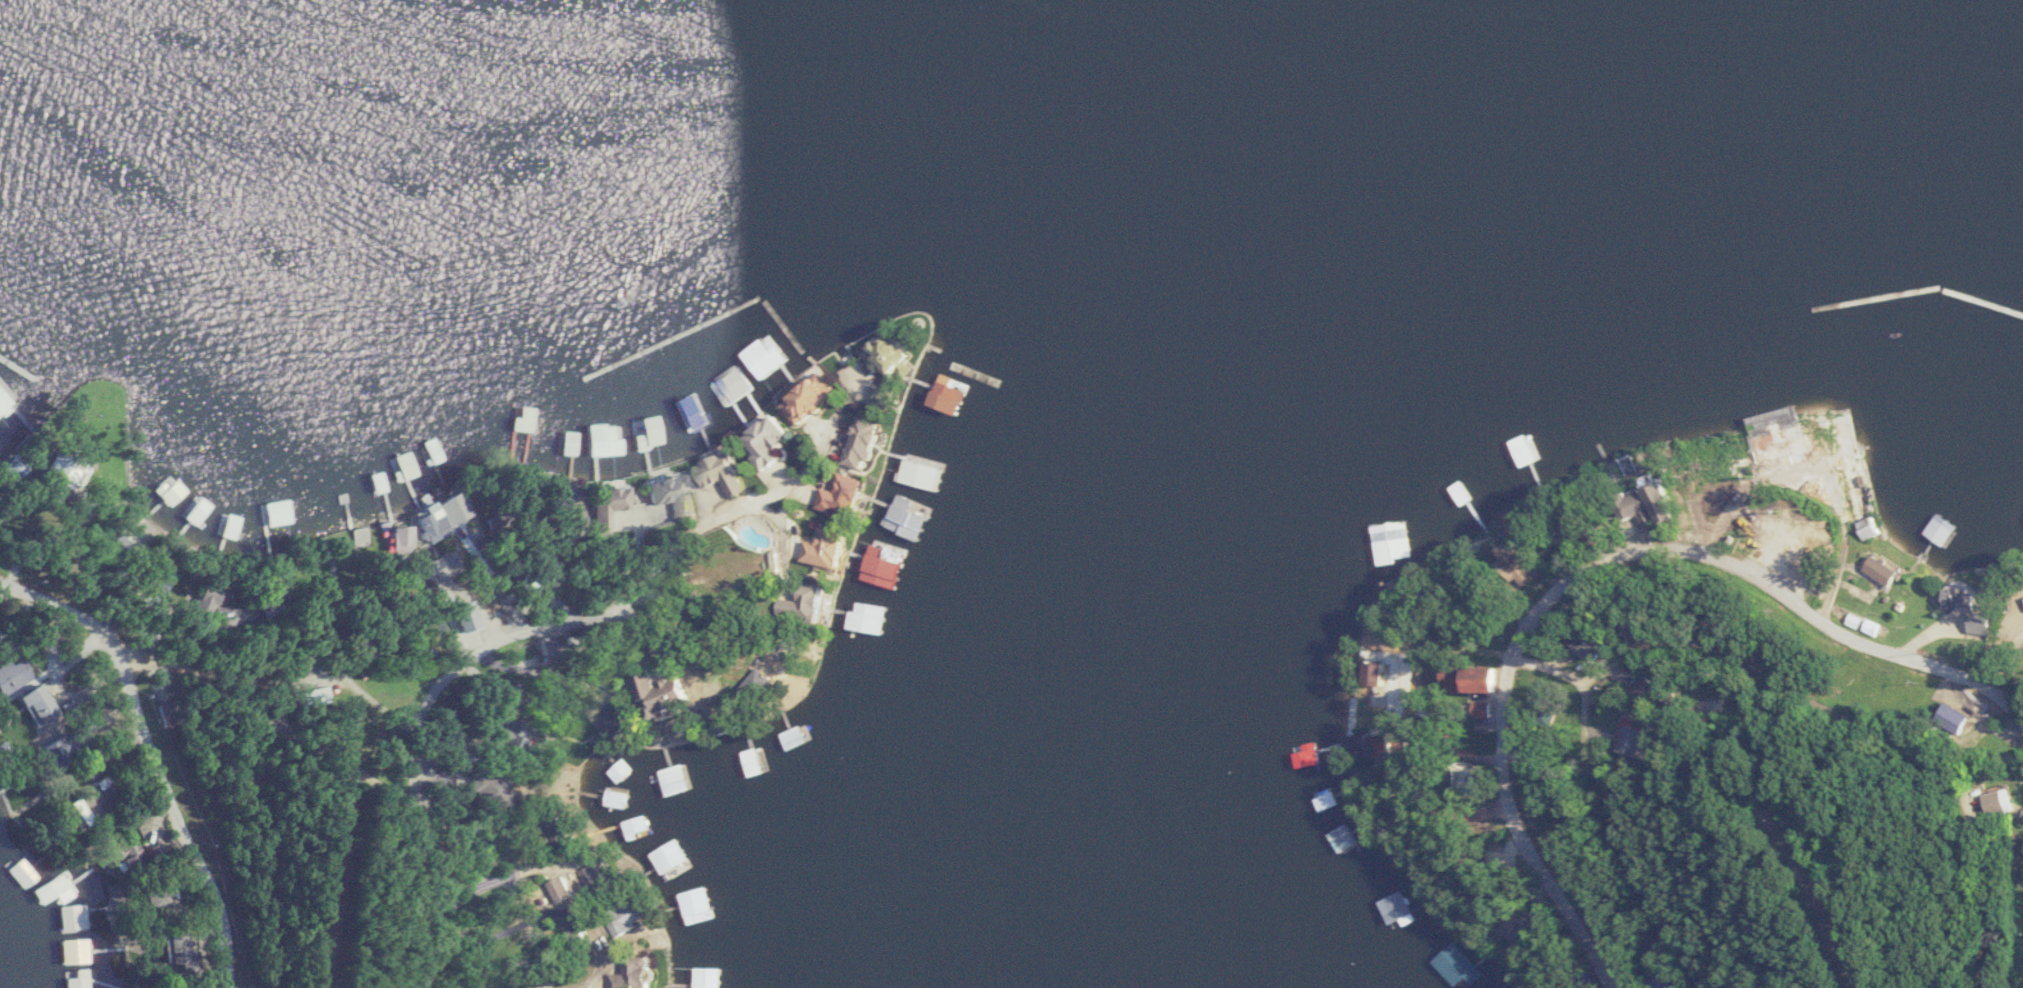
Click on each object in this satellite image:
building: (896, 352)
building: (769, 358)
building: (732, 385)
building: (813, 398)
building: (6, 399)
building: (945, 417)
road: (833, 421)
building: (1587, 424)
building: (606, 439)
building: (572, 443)
building: (867, 443)
building: (1795, 443)
building: (770, 444)
building: (1525, 451)
building: (69, 468)
building: (923, 472)
building: (1730, 472)
building: (726, 473)
road: (1827, 481)
building: (1855, 483)
building: (173, 493)
building: (672, 493)
building: (1459, 493)
building: (847, 497)
building: (1670, 503)
building: (612, 504)
building: (196, 509)
building: (1636, 512)
building: (265, 514)
building: (446, 515)
building: (910, 516)
building: (1395, 525)
road: (84, 531)
building: (831, 549)
building: (452, 564)
building: (1525, 569)
building: (1887, 570)
road: (1596, 585)
building: (211, 599)
building: (808, 605)
building: (1971, 610)
building: (874, 619)
building: (2014, 632)
road: (485, 644)
road: (1593, 652)
building: (10, 678)
road: (1736, 679)
building: (1493, 680)
road: (359, 690)
road: (1461, 690)
building: (1662, 690)
building: (329, 696)
building: (668, 696)
building: (1384, 703)
building: (43, 704)
building: (614, 716)
road: (269, 722)
building: (519, 734)
building: (796, 736)
building: (1648, 741)
road: (151, 754)
building: (621, 771)
building: (675, 780)
building: (494, 789)
building: (618, 799)
building: (2010, 803)
building: (93, 809)
building: (638, 825)
building: (1338, 833)
building: (133, 856)
building: (24, 873)
building: (600, 878)
building: (69, 886)
building: (163, 892)
building: (572, 892)
building: (697, 904)
building: (1400, 909)
building: (74, 918)
building: (633, 920)
building: (187, 950)
building: (78, 952)
road: (623, 957)
building: (1457, 965)
building: (642, 973)
building: (709, 977)
building: (77, 982)
building: (1675, 985)

